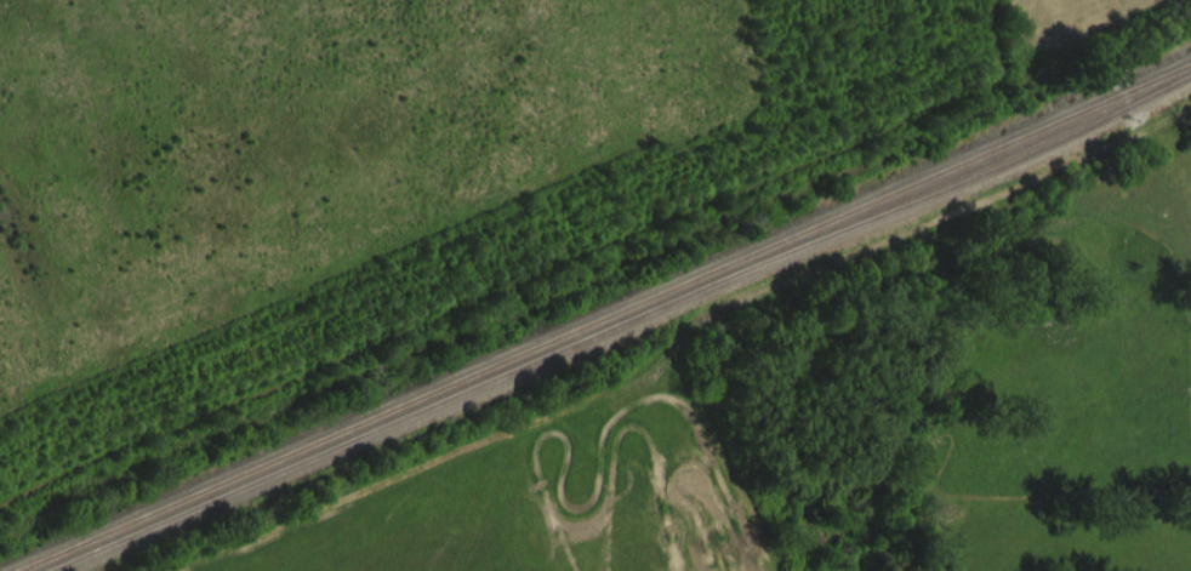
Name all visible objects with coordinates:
road: (532, 270)
railway: (604, 316)
railway: (620, 322)

